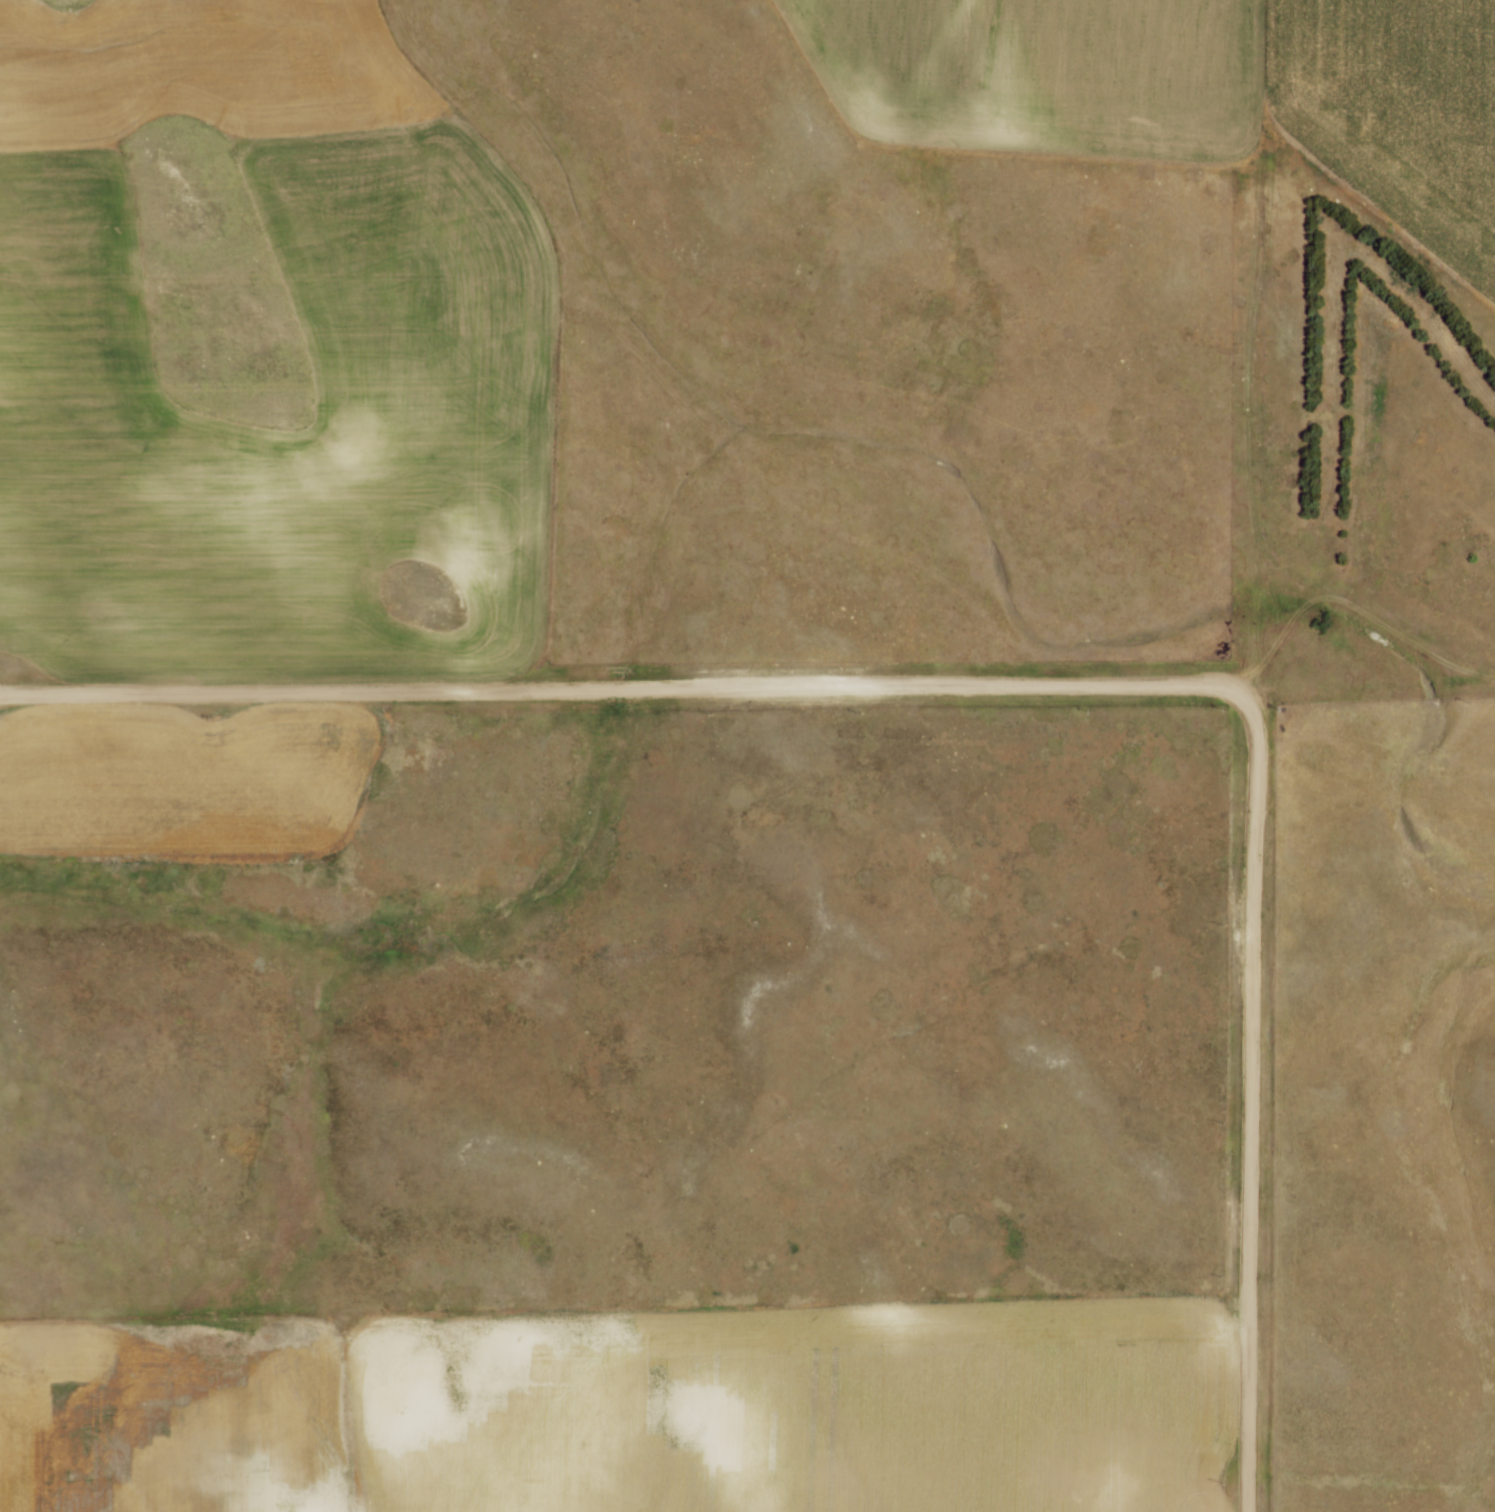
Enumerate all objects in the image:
crop: (1039, 72)
crop: (1406, 113)
crop: (262, 353)
road: (618, 688)
crop: (182, 777)
road: (1249, 1097)
crop: (631, 1409)

